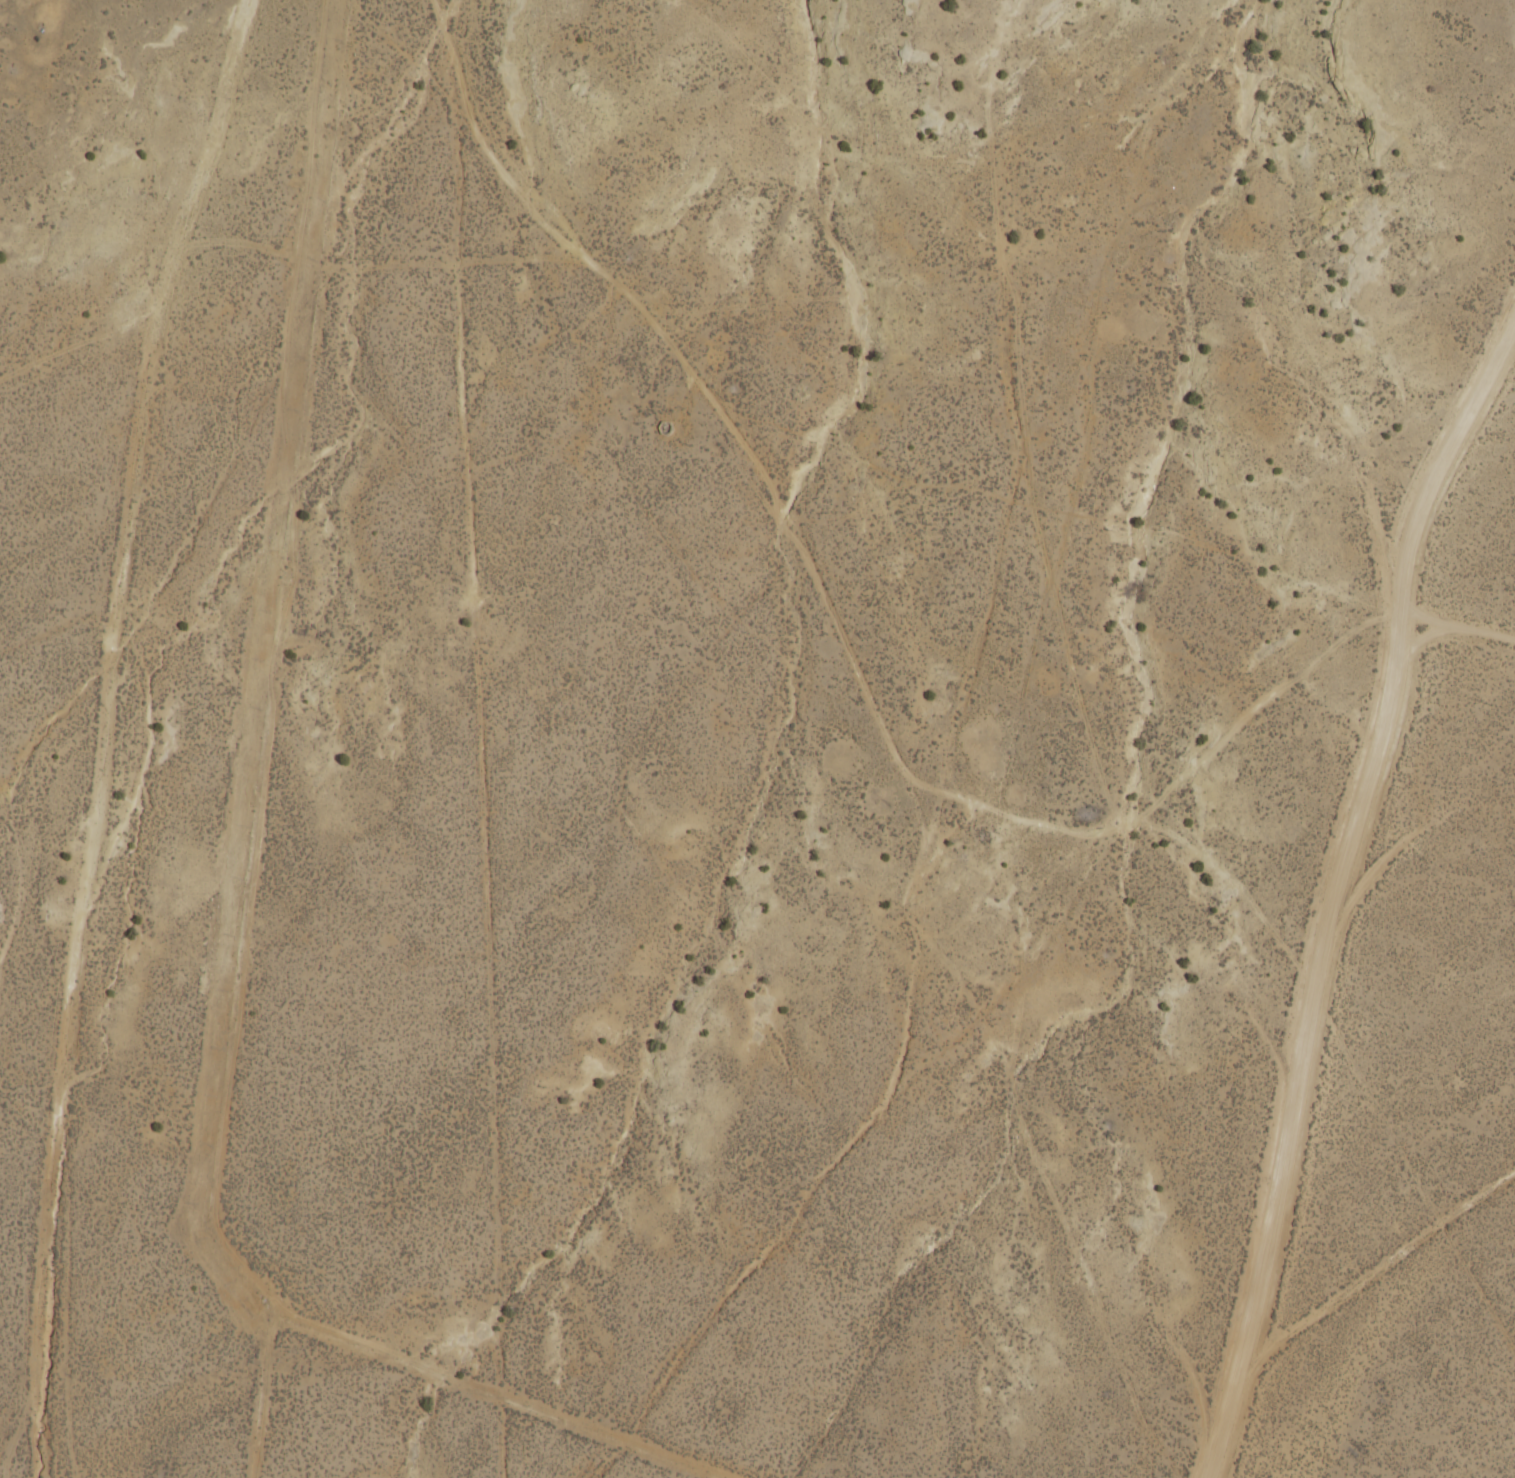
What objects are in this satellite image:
road: (666, 346)
road: (1324, 650)
road: (86, 692)
road: (919, 712)
road: (1339, 896)
road: (1380, 1256)

